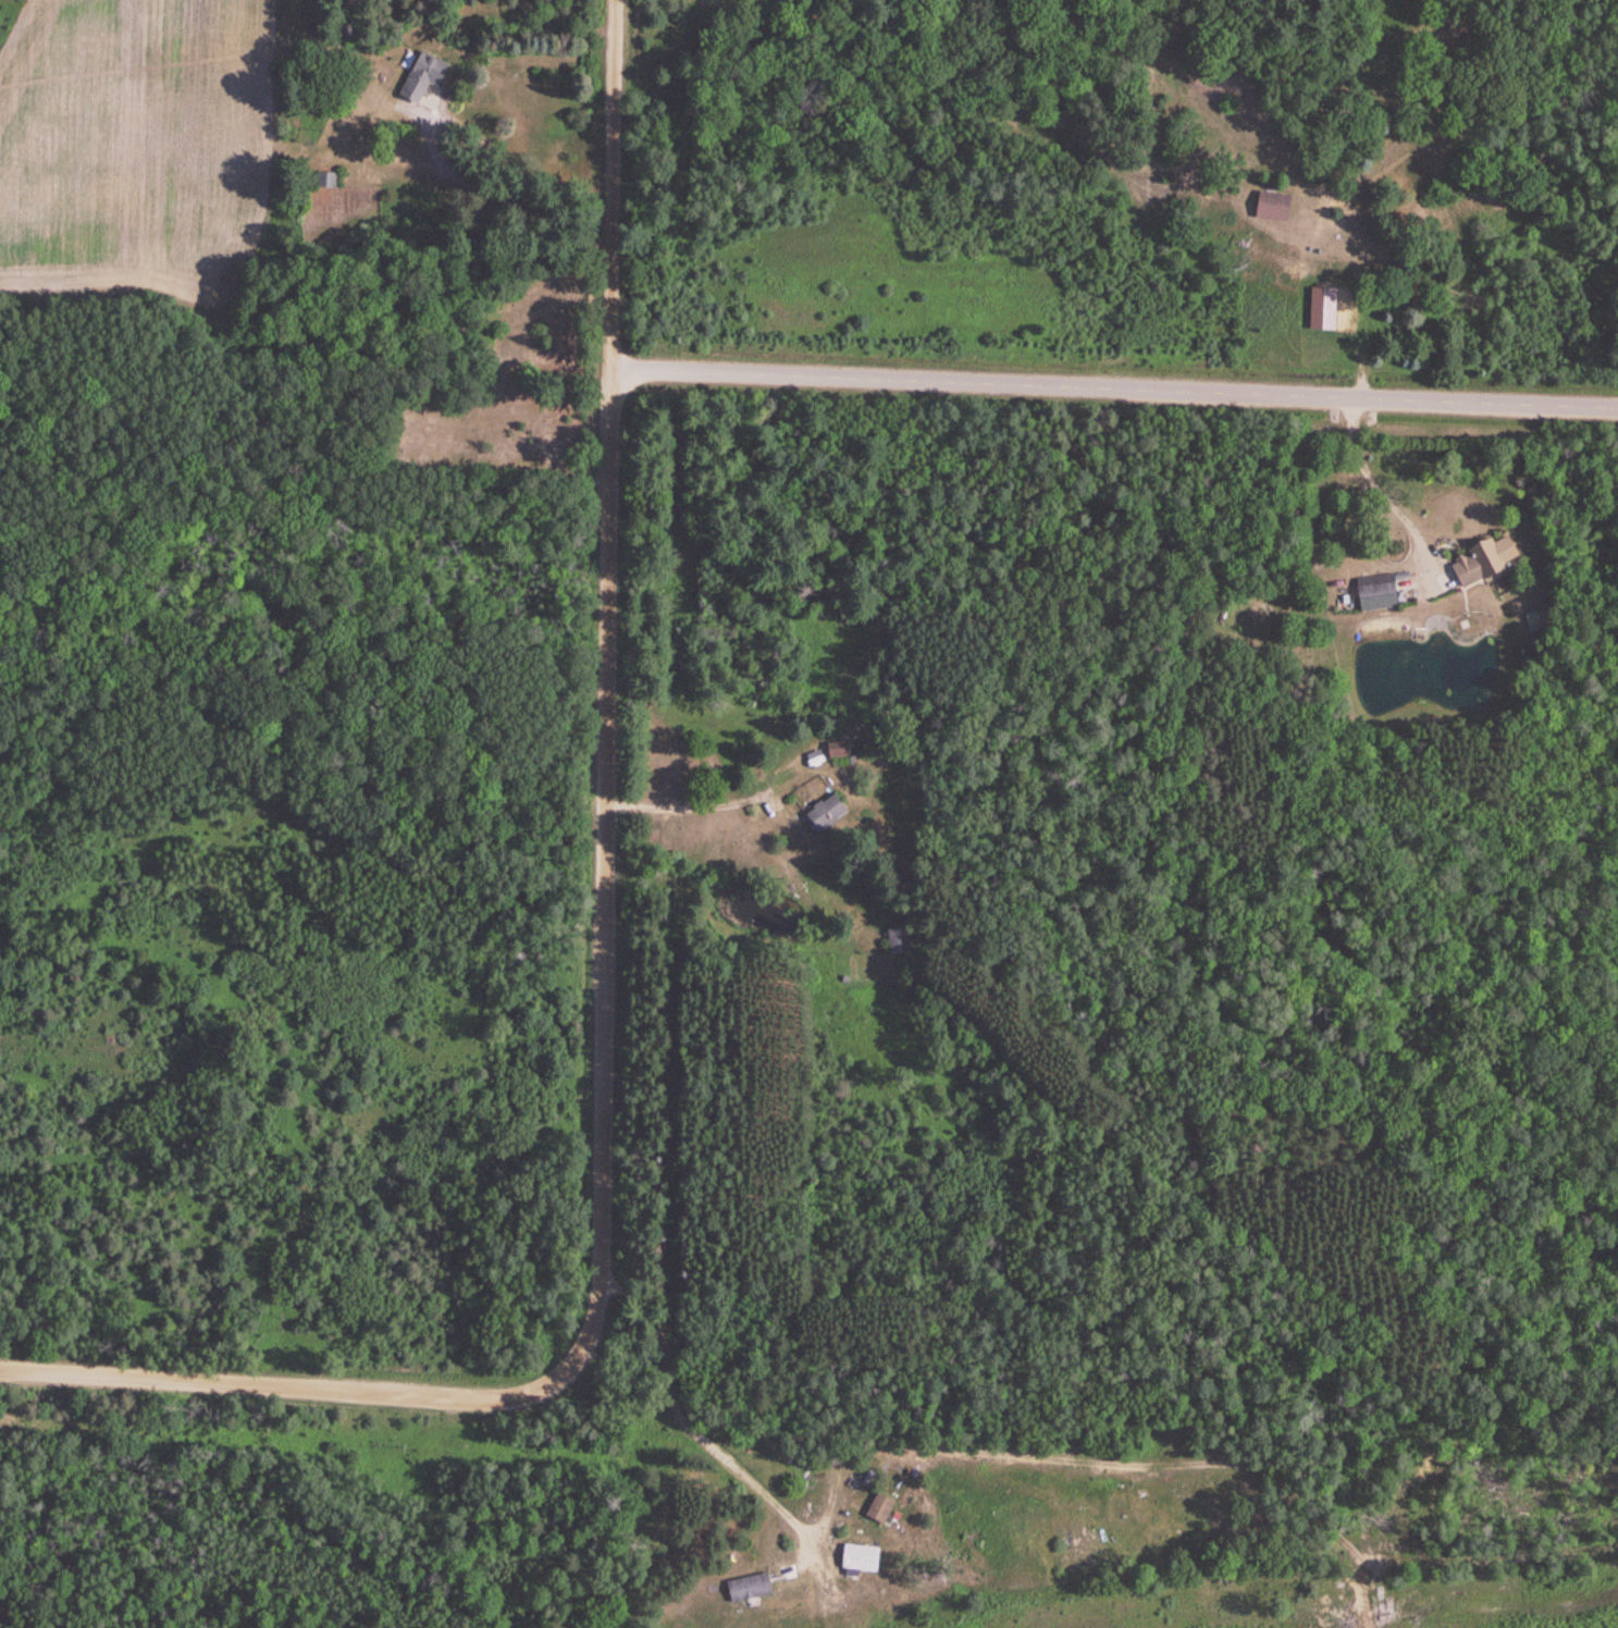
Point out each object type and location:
building: (418, 77)
building: (325, 181)
building: (1268, 206)
building: (1334, 272)
road: (1113, 387)
park: (498, 391)
road: (1374, 489)
building: (1478, 559)
building: (1371, 593)
building: (831, 749)
road: (686, 807)
building: (819, 813)
building: (893, 940)
road: (603, 977)
road: (705, 1416)
building: (875, 1510)
building: (855, 1558)
building: (744, 1589)

